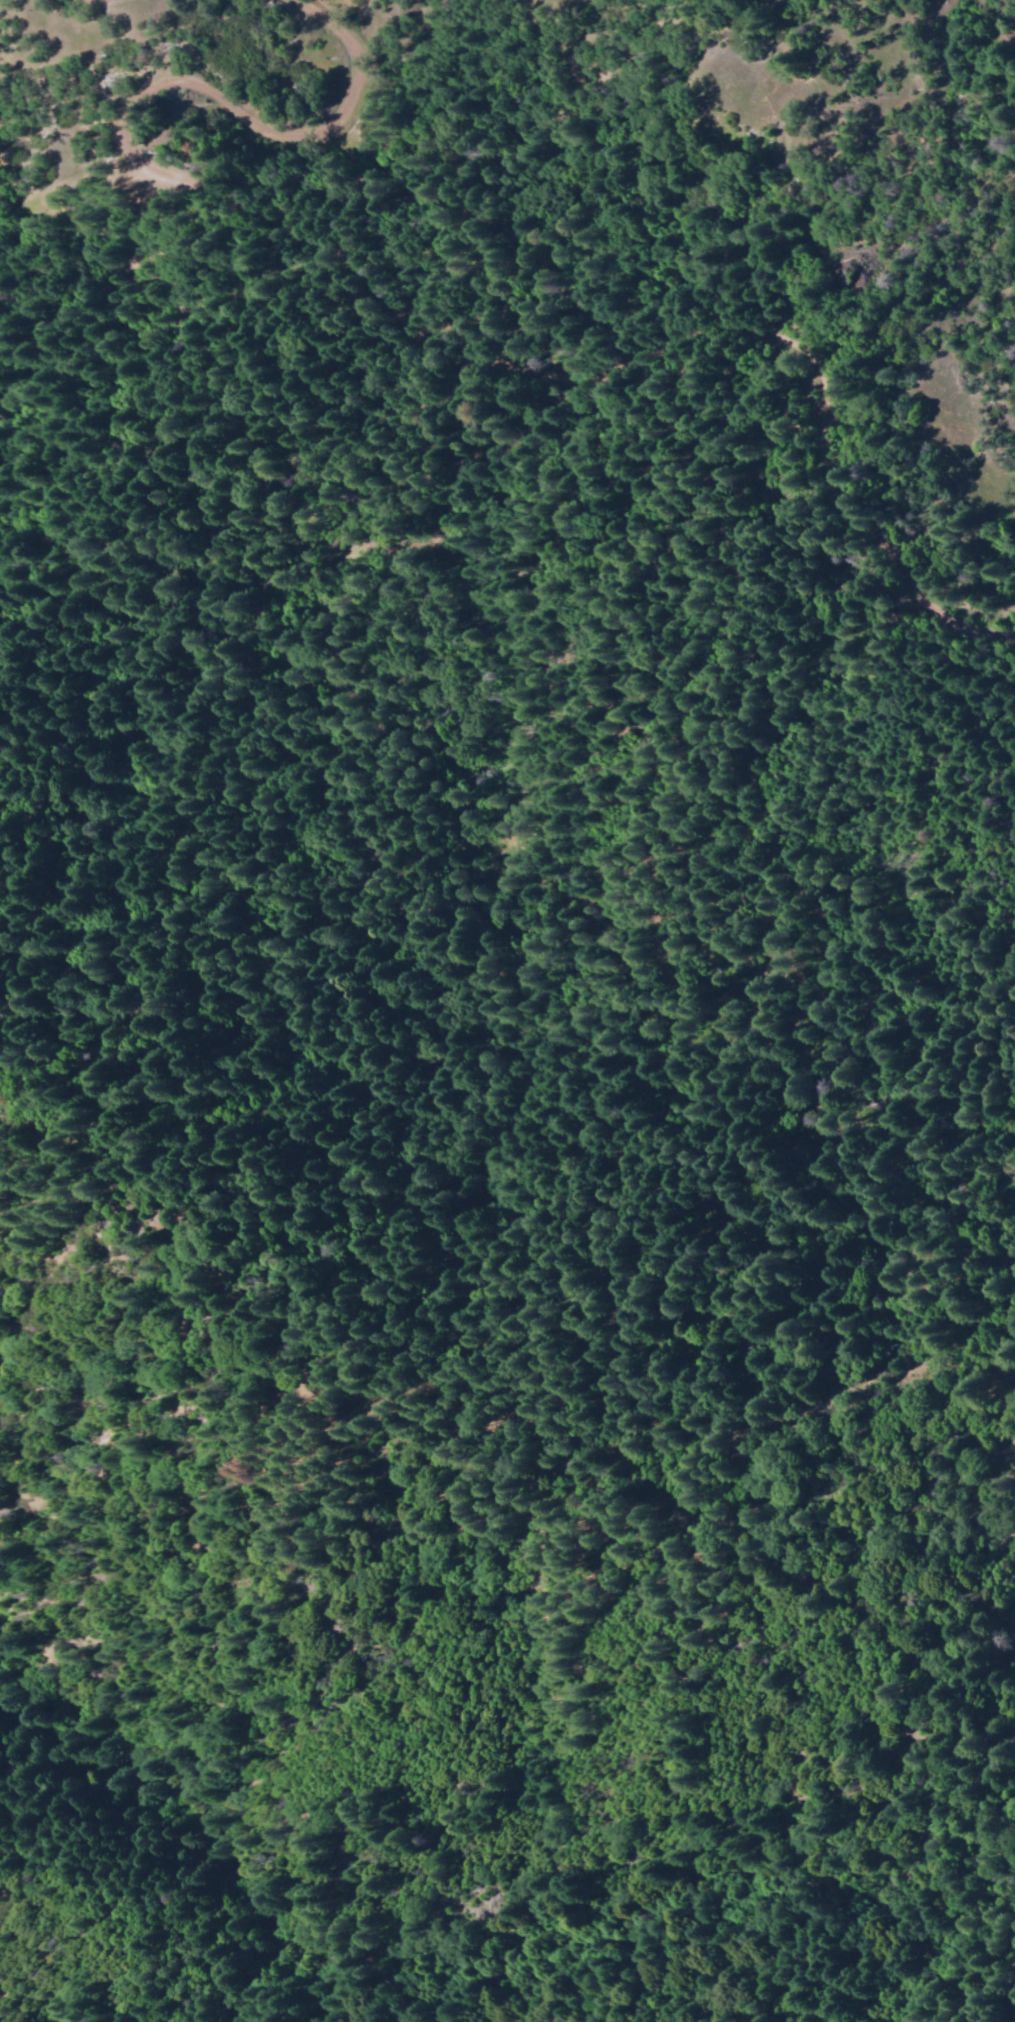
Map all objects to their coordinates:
road: (551, 350)
road: (876, 837)
road: (1012, 2019)

